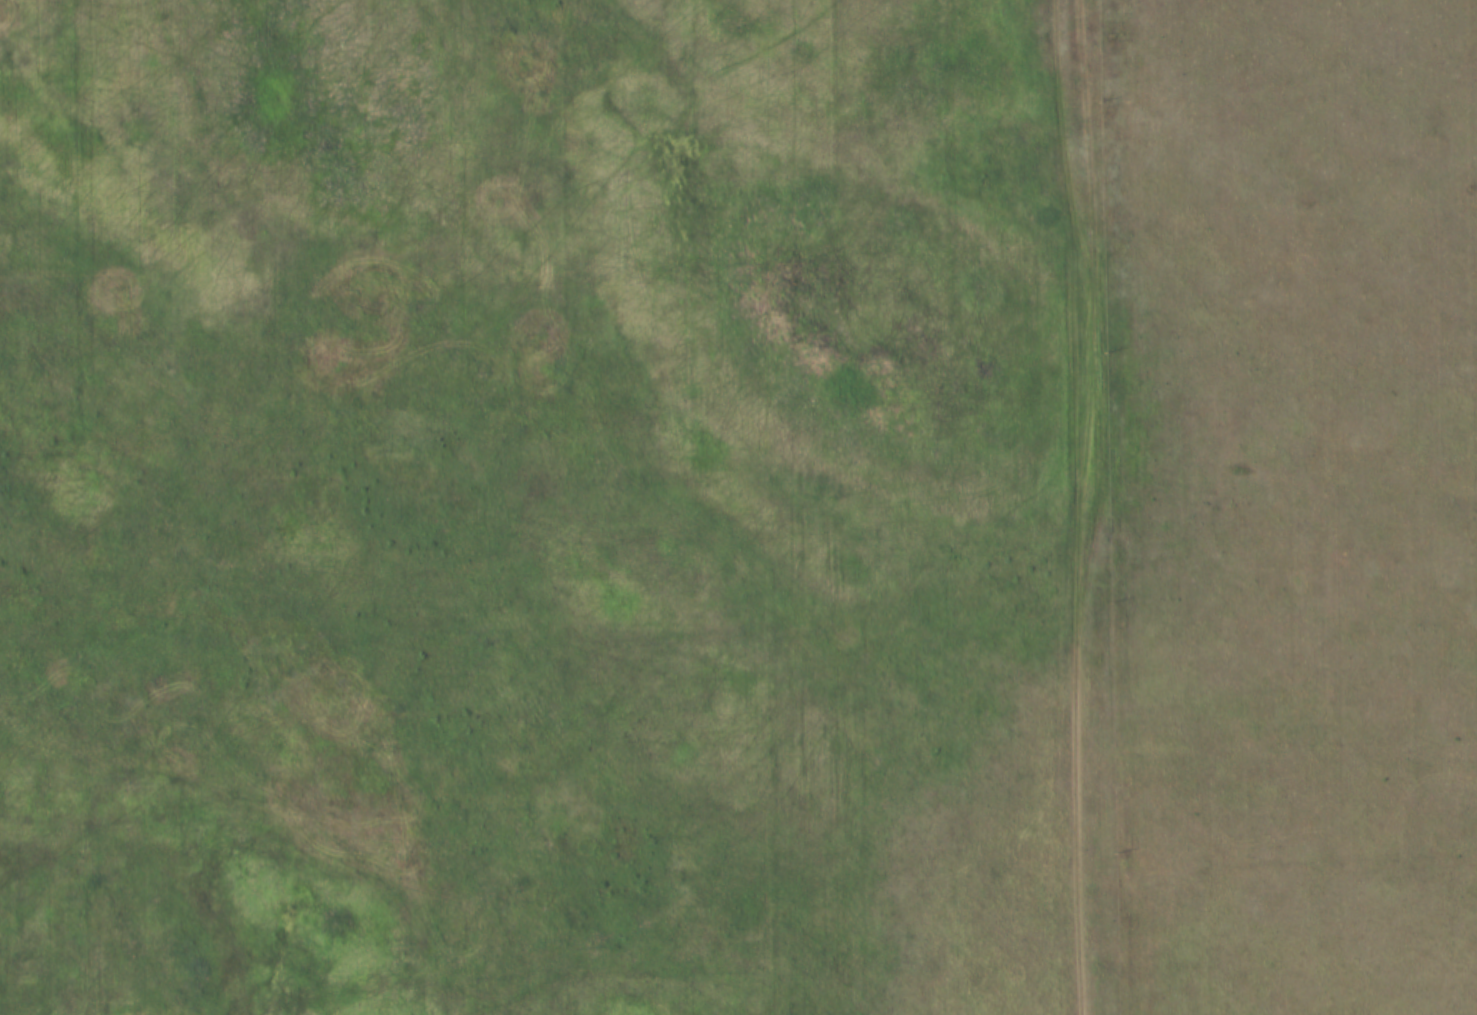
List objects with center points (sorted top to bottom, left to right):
road: (1101, 507)

